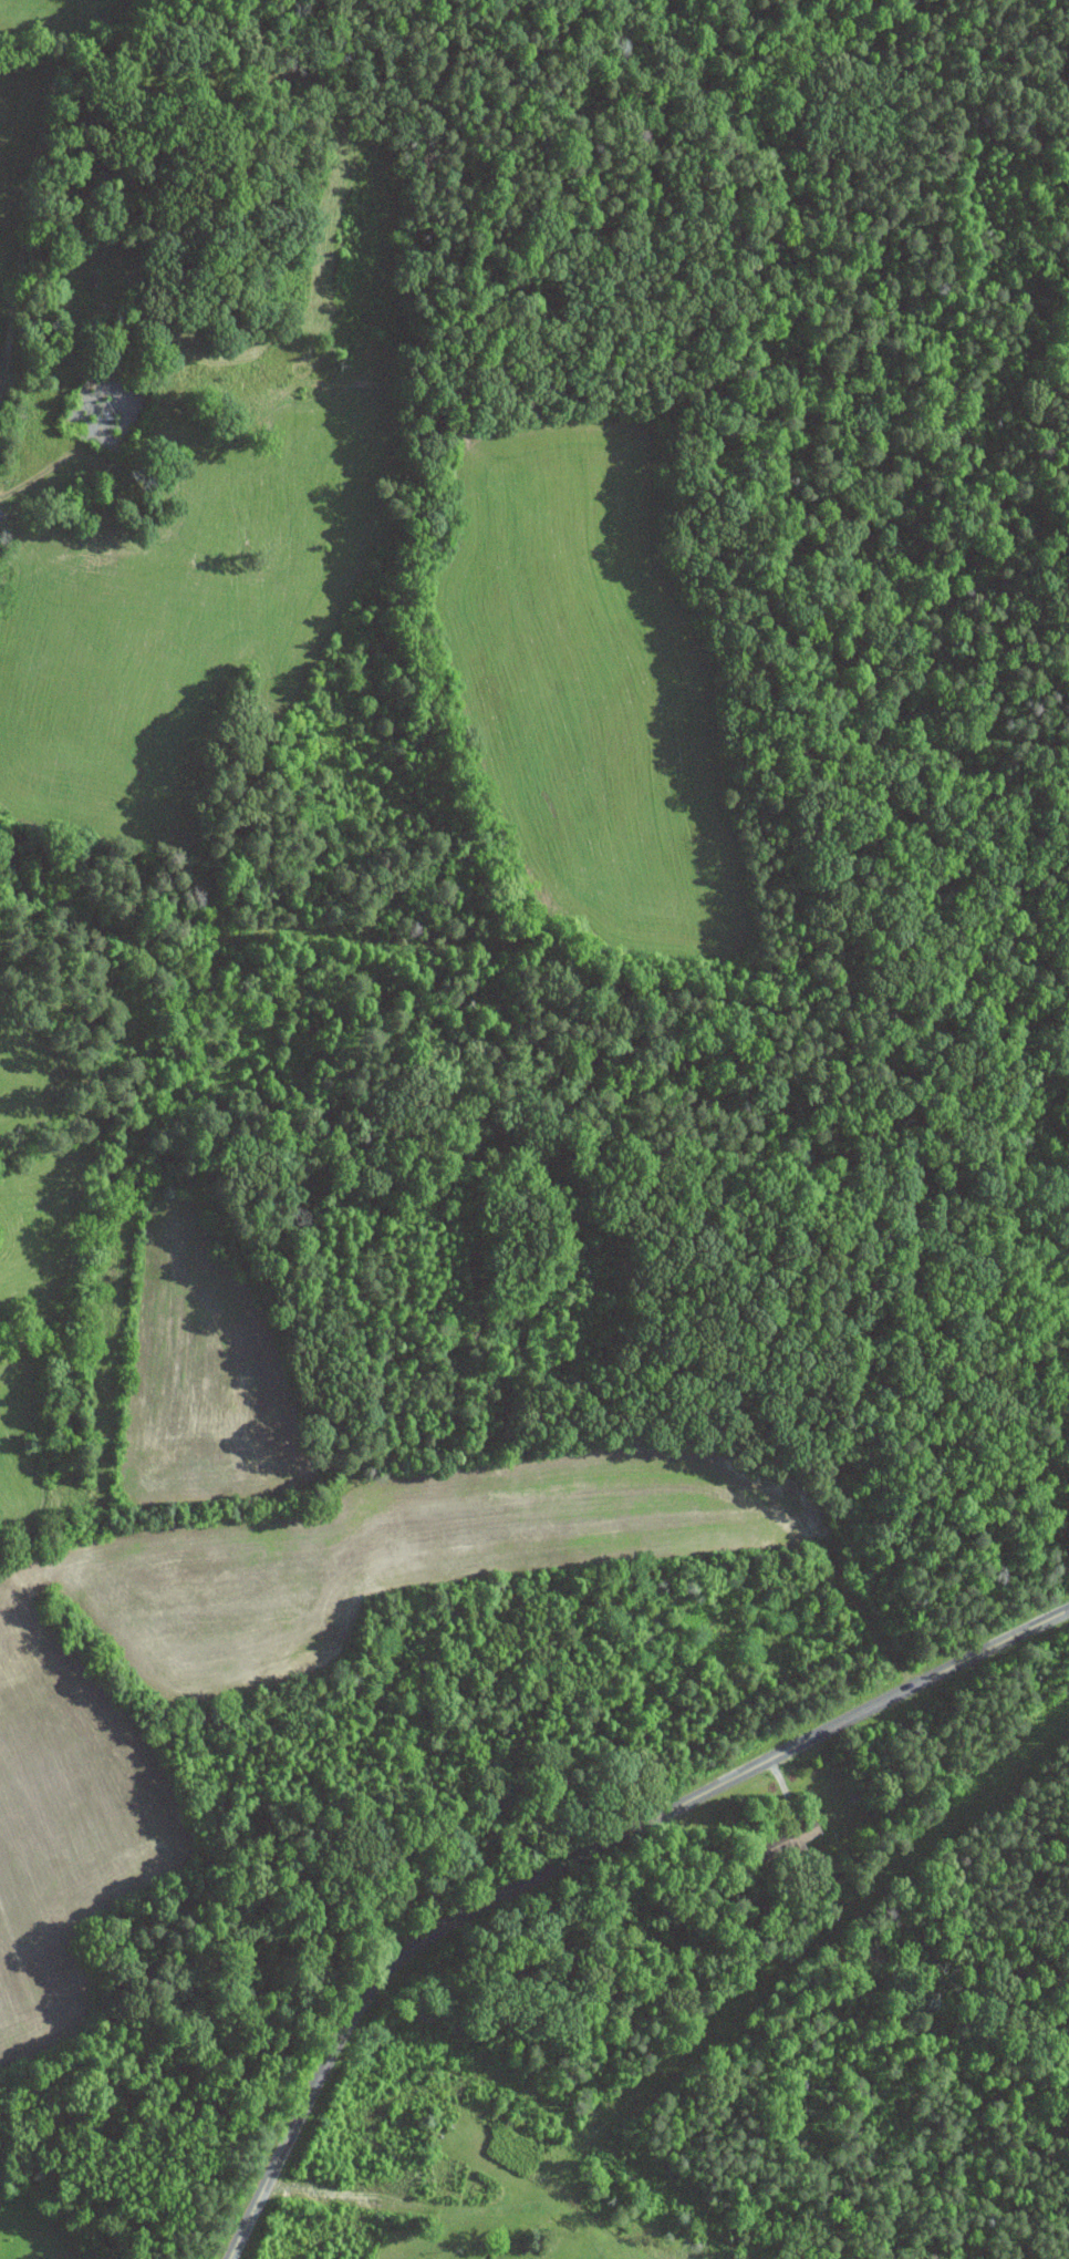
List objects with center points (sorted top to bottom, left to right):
road: (7, 492)
building: (799, 1834)
road: (577, 1858)

